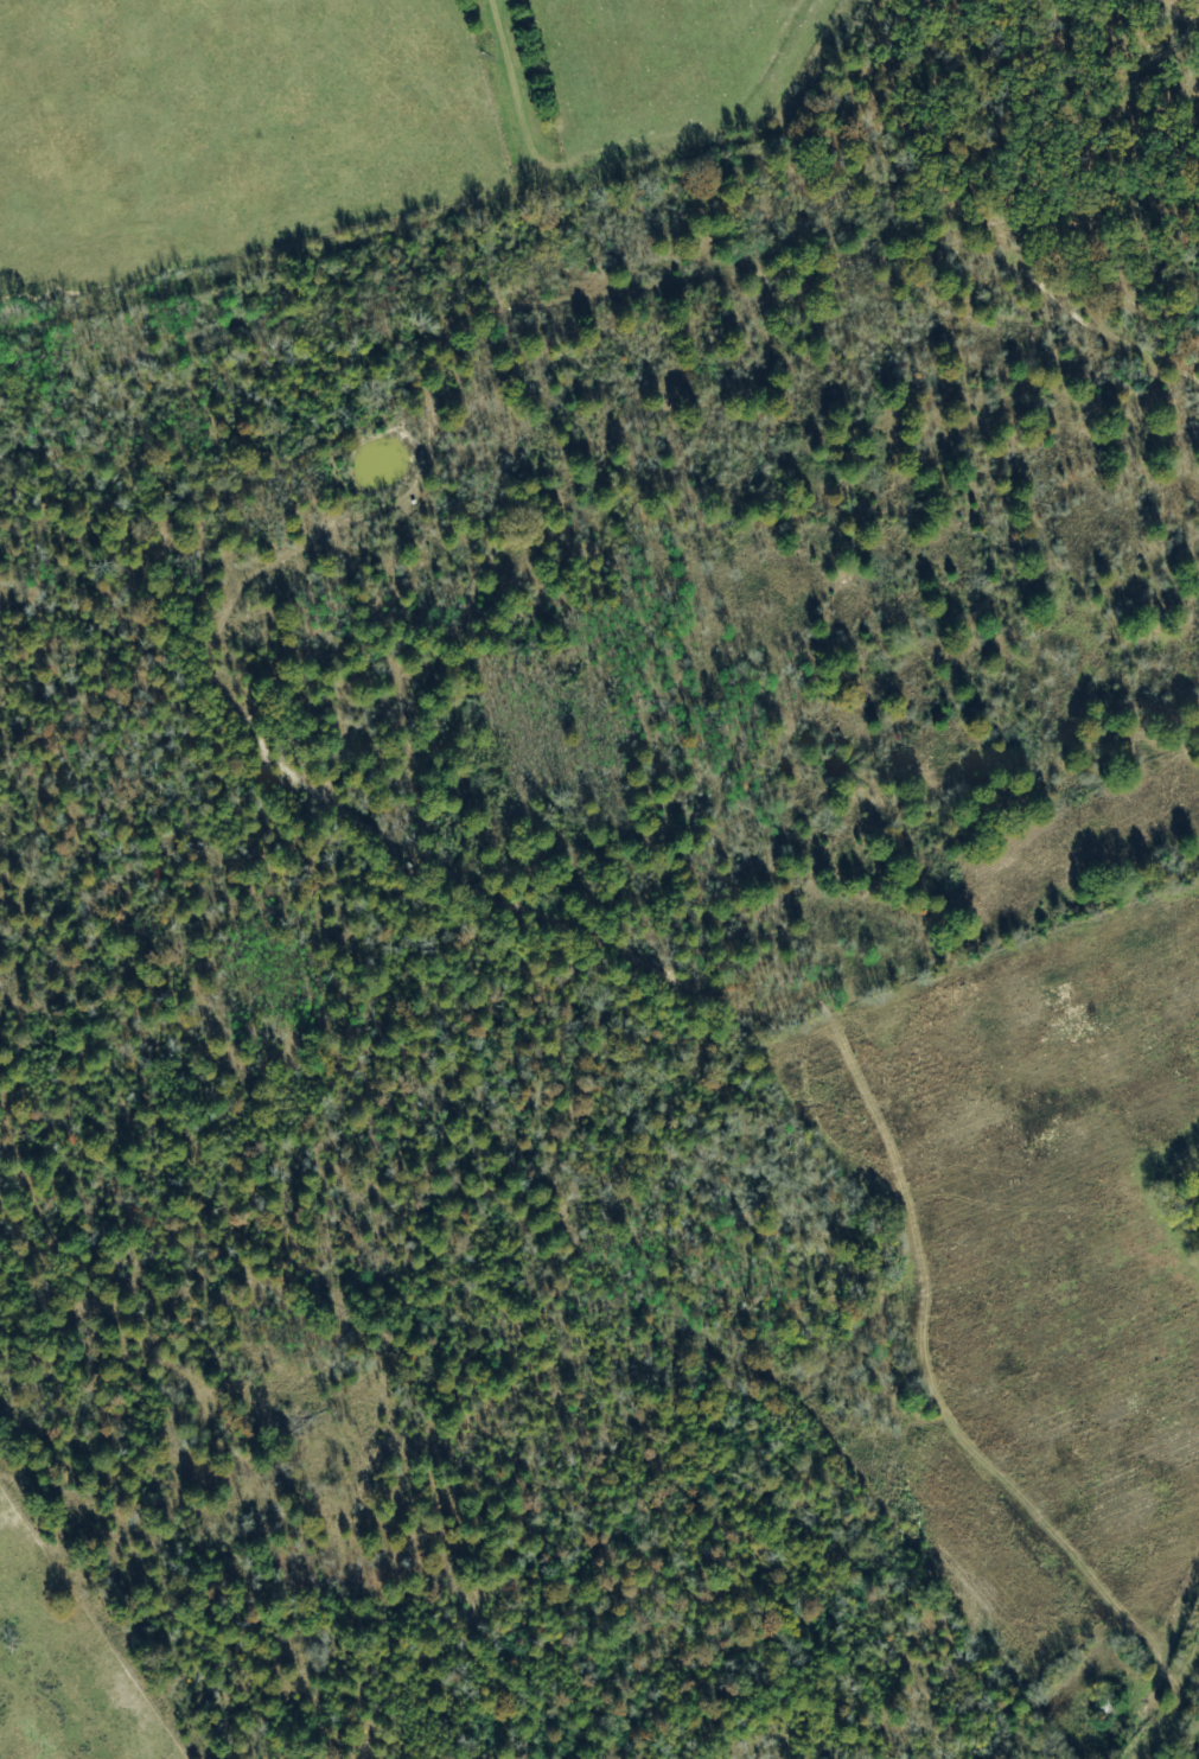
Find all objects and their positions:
road: (1142, 674)
road: (1161, 1688)

